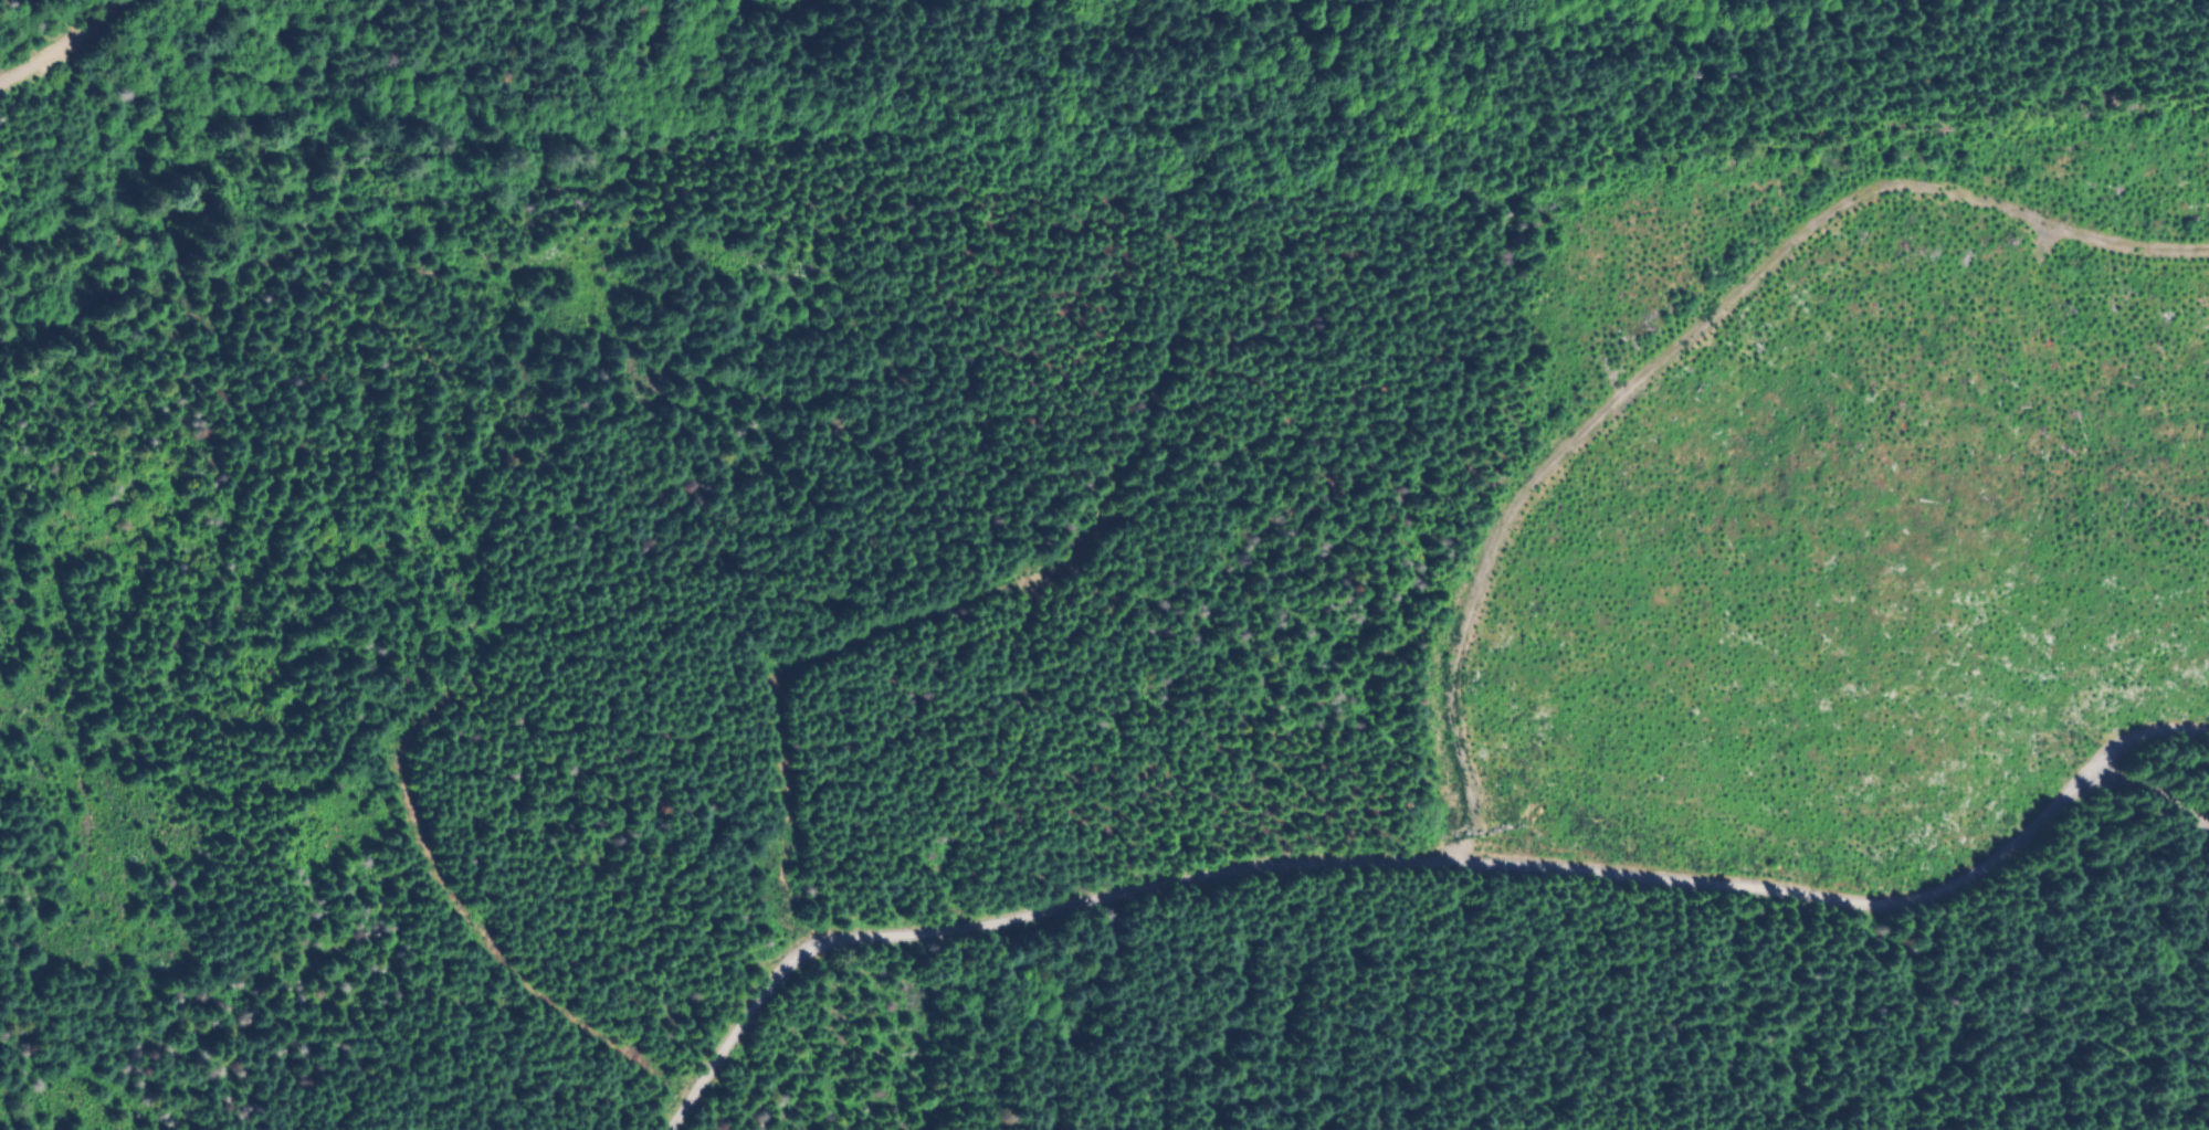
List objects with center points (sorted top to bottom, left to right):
road: (67, 42)
road: (908, 623)
road: (2149, 795)
road: (1420, 863)
road: (440, 885)

